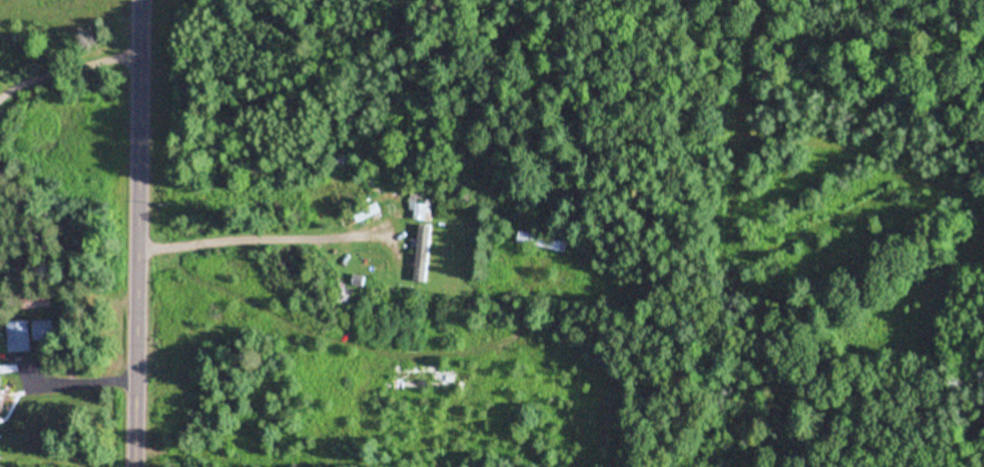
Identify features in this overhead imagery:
building: (422, 206)
road: (150, 233)
building: (545, 242)
building: (427, 249)
building: (43, 304)
building: (45, 330)
building: (20, 336)
building: (1, 392)

